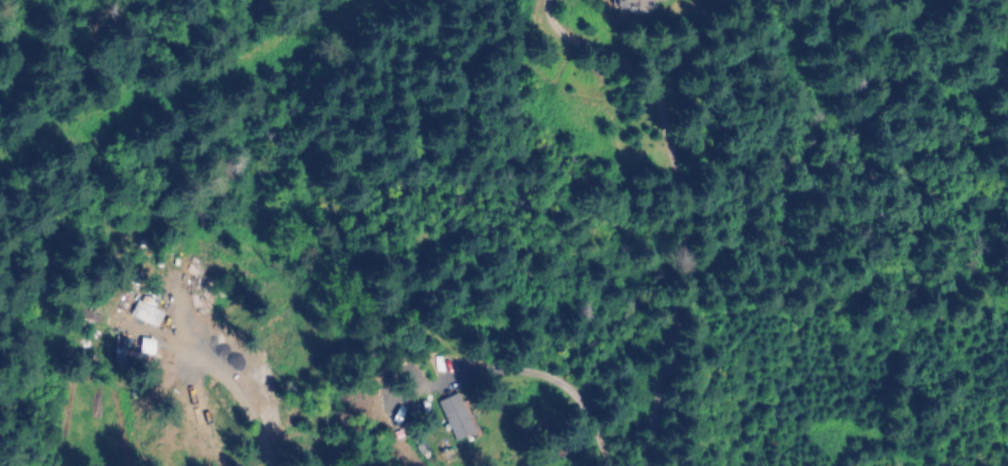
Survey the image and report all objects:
building: (637, 4)
road: (597, 54)
road: (678, 288)
building: (456, 419)

